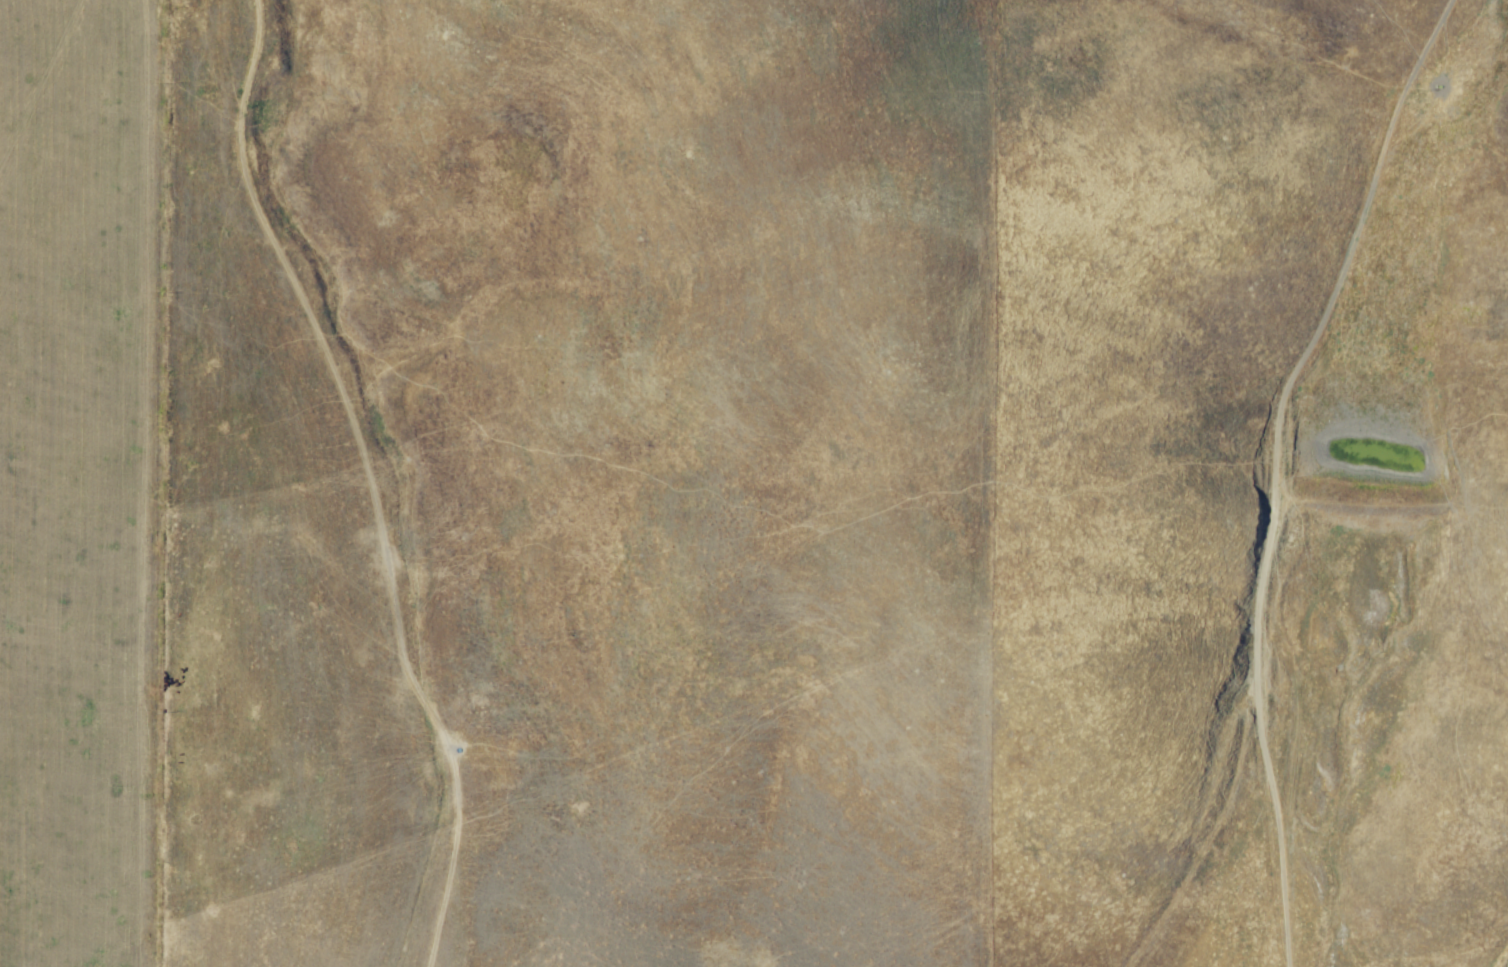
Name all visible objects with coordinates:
crop: (754, 483)

